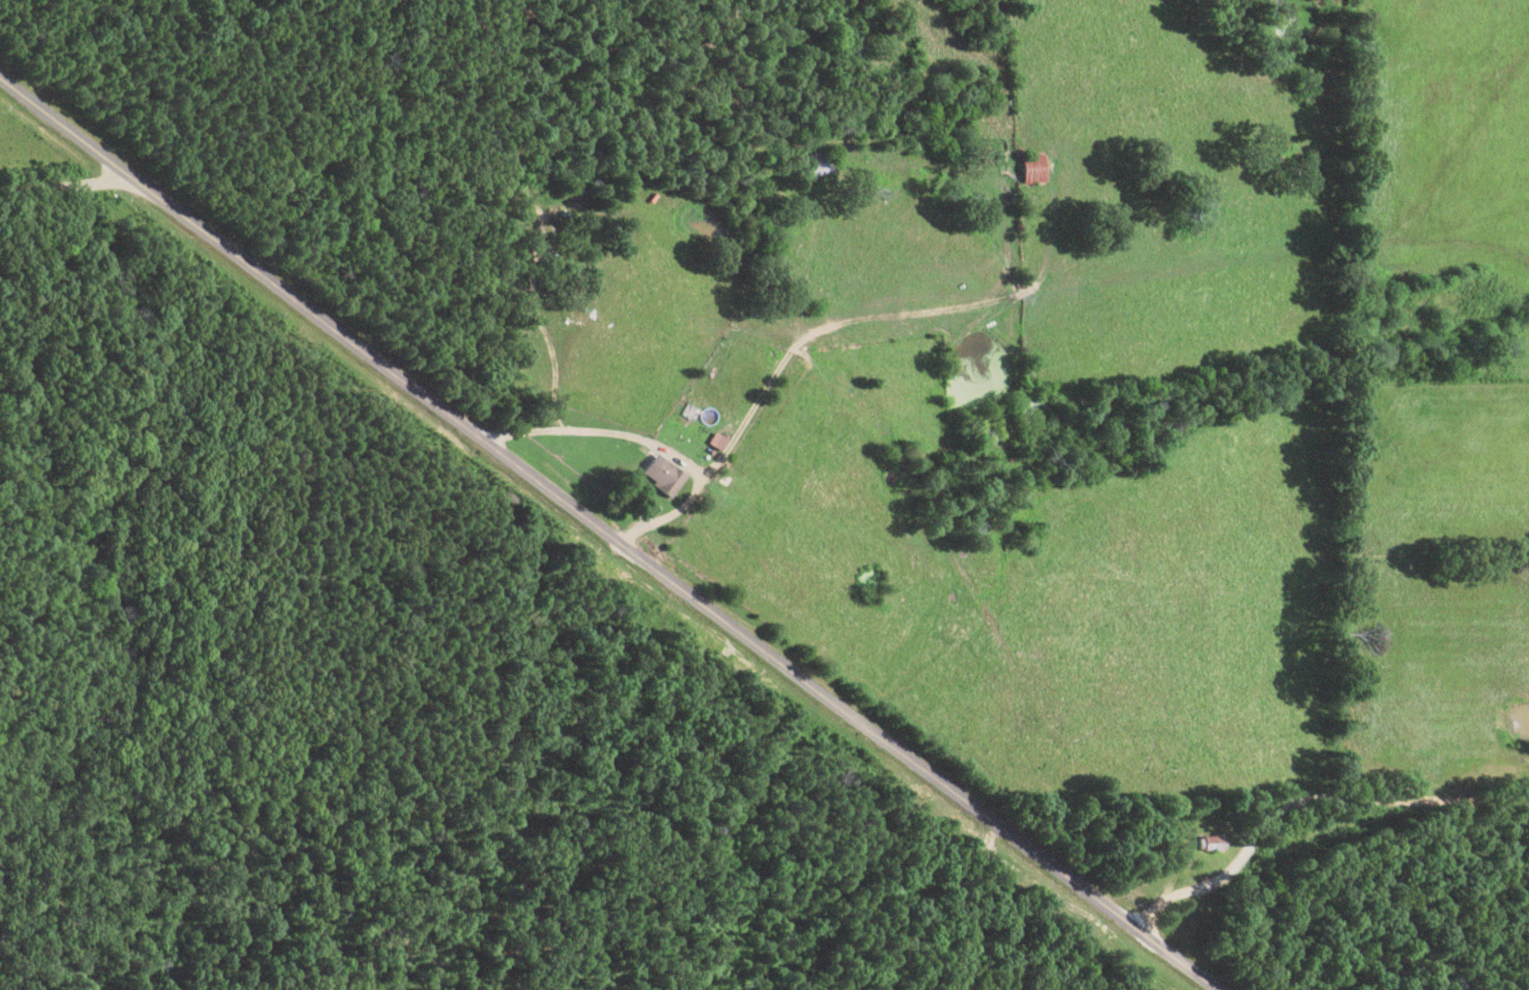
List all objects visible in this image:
road: (46, 106)
building: (814, 166)
building: (1024, 172)
road: (48, 174)
building: (656, 477)
road: (695, 567)
road: (1332, 794)
building: (1196, 844)

